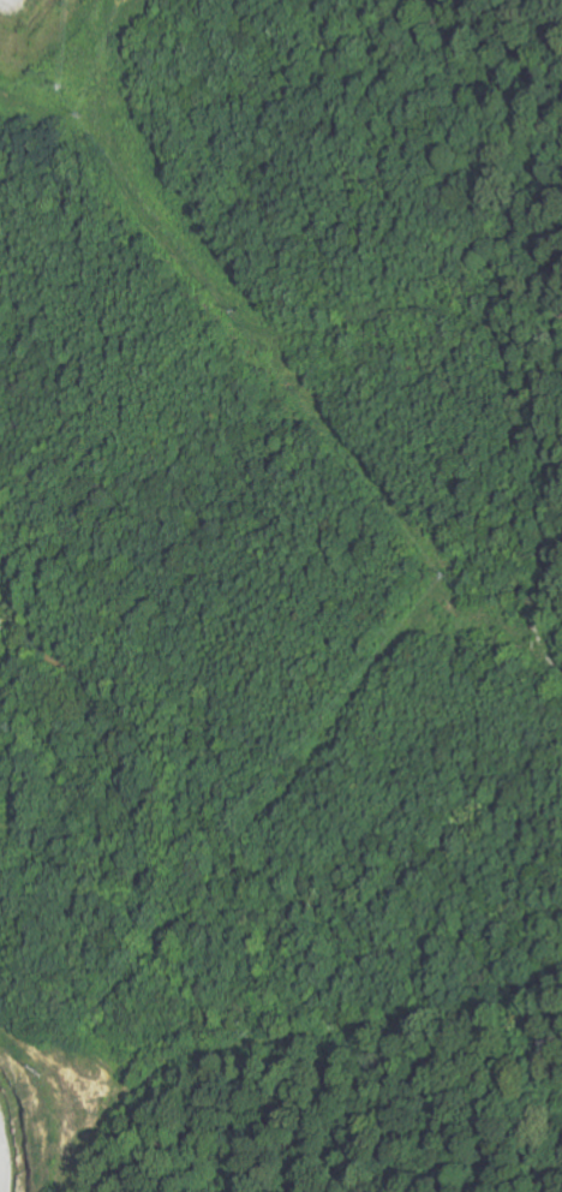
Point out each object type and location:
road: (355, 317)
road: (289, 1039)

